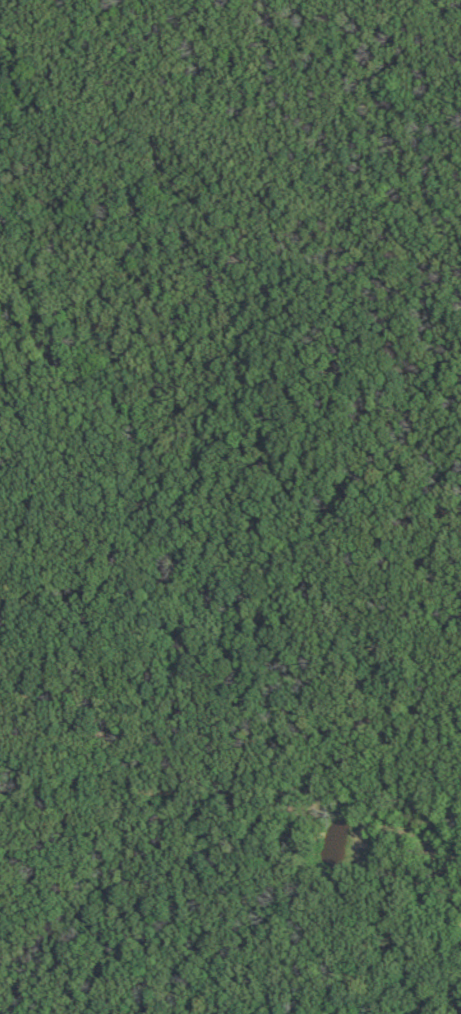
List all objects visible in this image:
road: (232, 794)

